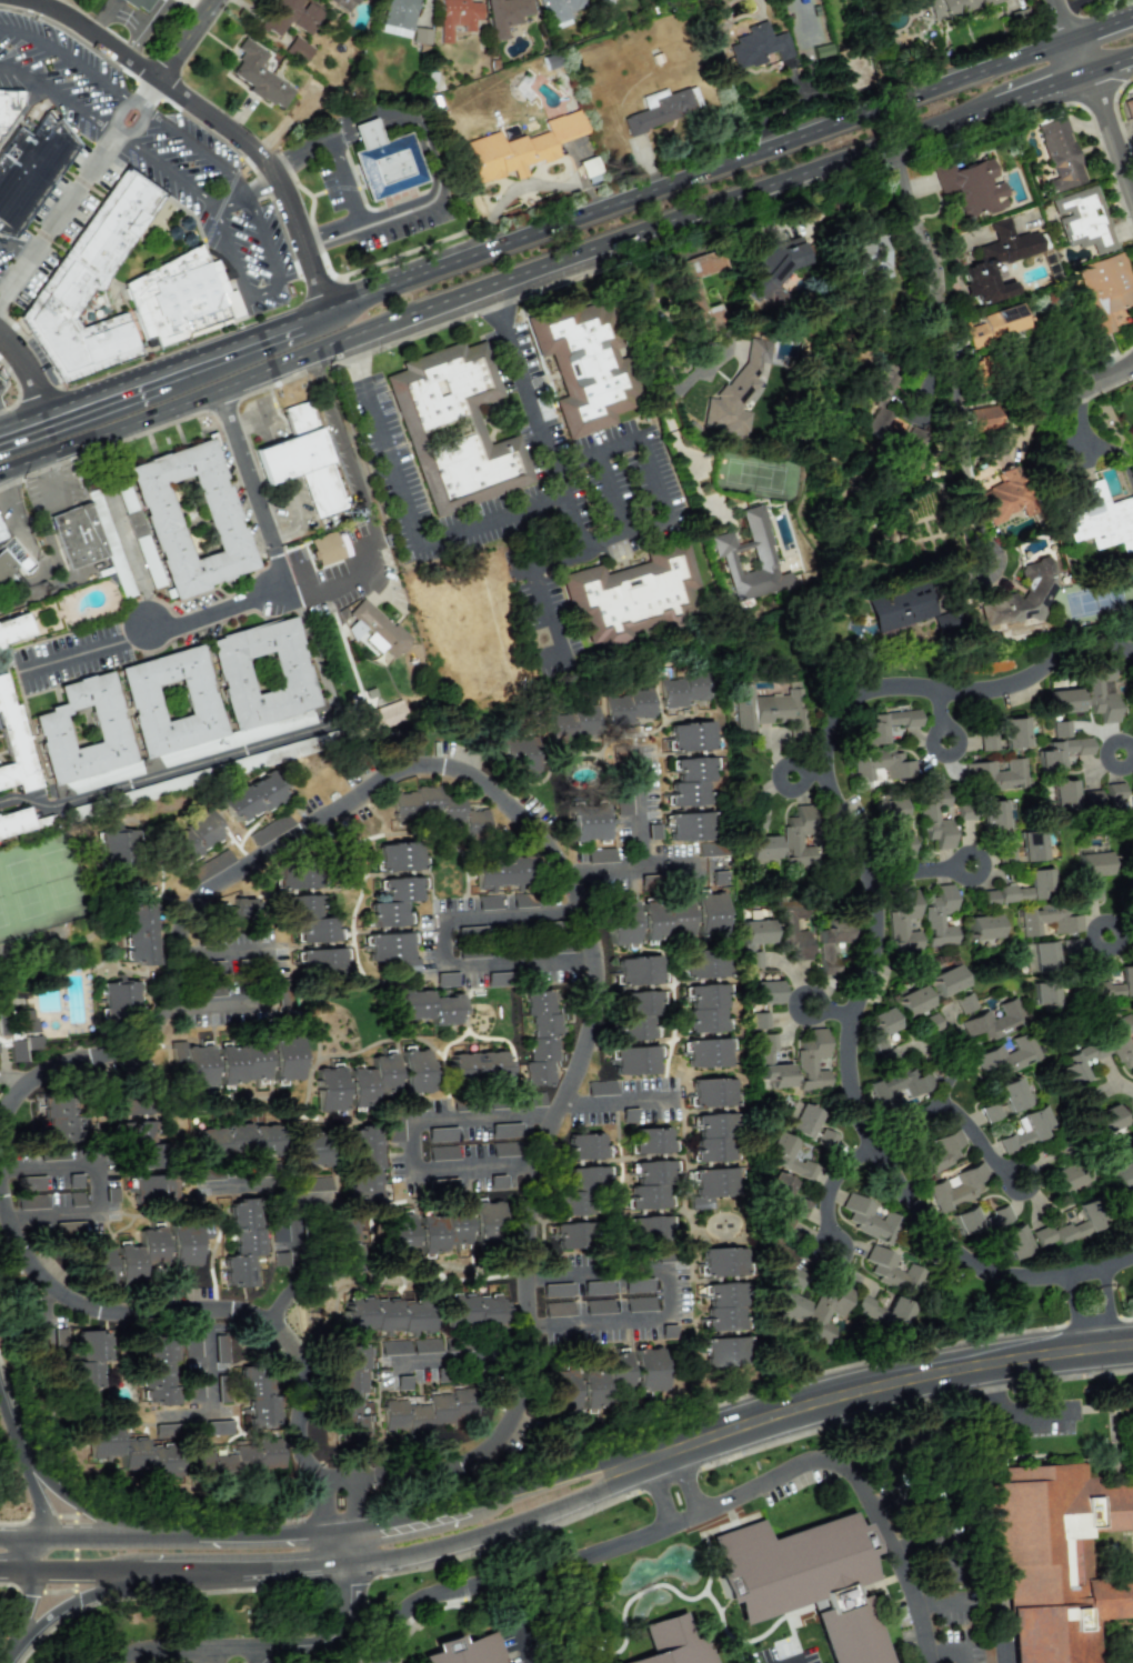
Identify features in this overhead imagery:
road: (117, 2)
building: (601, 2)
building: (342, 3)
building: (140, 4)
building: (952, 7)
road: (77, 8)
building: (559, 11)
road: (153, 12)
building: (505, 14)
building: (289, 16)
building: (398, 16)
building: (457, 17)
road: (1063, 19)
road: (87, 22)
road: (1104, 28)
road: (182, 36)
building: (421, 36)
road: (137, 38)
road: (1059, 42)
building: (758, 46)
building: (298, 49)
road: (1083, 52)
road: (62, 59)
road: (1112, 59)
road: (143, 62)
building: (259, 76)
road: (1042, 82)
road: (147, 88)
road: (52, 92)
building: (311, 93)
road: (130, 99)
building: (9, 104)
road: (975, 106)
building: (662, 108)
building: (1129, 108)
road: (146, 109)
road: (108, 129)
road: (1110, 136)
road: (121, 139)
road: (423, 147)
building: (520, 148)
road: (200, 151)
building: (1060, 154)
building: (388, 166)
building: (29, 167)
road: (273, 167)
road: (1127, 176)
road: (342, 179)
road: (671, 180)
building: (972, 187)
road: (243, 191)
road: (68, 200)
road: (207, 206)
building: (1084, 220)
road: (261, 233)
road: (11, 242)
road: (28, 248)
building: (871, 257)
road: (925, 258)
building: (996, 261)
building: (775, 271)
road: (6, 279)
building: (91, 283)
road: (475, 284)
building: (1104, 289)
building: (698, 290)
road: (267, 292)
building: (179, 297)
building: (993, 325)
road: (227, 347)
road: (651, 363)
road: (34, 364)
building: (583, 365)
road: (1085, 378)
building: (882, 384)
road: (17, 387)
building: (736, 393)
road: (76, 405)
road: (533, 414)
building: (983, 418)
building: (876, 422)
building: (454, 424)
road: (2, 428)
building: (912, 443)
road: (342, 444)
road: (106, 447)
road: (619, 447)
building: (301, 460)
road: (655, 479)
road: (967, 481)
road: (610, 494)
building: (1005, 495)
road: (40, 512)
road: (12, 515)
road: (404, 517)
building: (190, 518)
building: (1101, 518)
building: (0, 534)
building: (77, 535)
road: (10, 539)
road: (359, 541)
road: (604, 541)
building: (324, 549)
road: (131, 555)
road: (279, 558)
building: (750, 558)
building: (148, 559)
building: (11, 560)
road: (351, 562)
road: (377, 570)
road: (302, 583)
road: (52, 585)
road: (332, 588)
building: (632, 595)
building: (1022, 595)
building: (899, 607)
road: (548, 613)
building: (375, 629)
building: (13, 630)
road: (137, 632)
road: (72, 655)
building: (262, 672)
building: (683, 689)
building: (1100, 691)
building: (172, 700)
building: (1063, 700)
building: (630, 705)
building: (769, 709)
building: (389, 713)
building: (575, 723)
building: (885, 724)
building: (1060, 729)
building: (83, 730)
building: (1014, 732)
building: (691, 737)
building: (986, 741)
building: (14, 747)
road: (1106, 751)
building: (1060, 752)
building: (522, 754)
building: (882, 764)
road: (157, 773)
building: (996, 775)
building: (690, 781)
building: (1063, 794)
building: (252, 798)
building: (1091, 799)
building: (623, 803)
building: (1119, 808)
building: (438, 809)
building: (891, 809)
building: (993, 814)
building: (934, 818)
building: (13, 821)
building: (589, 821)
building: (688, 825)
building: (270, 830)
building: (799, 836)
building: (191, 838)
building: (899, 844)
building: (1032, 845)
building: (116, 848)
building: (762, 848)
road: (643, 849)
building: (712, 849)
building: (400, 855)
building: (600, 855)
building: (217, 862)
road: (676, 864)
building: (1092, 864)
building: (502, 871)
road: (918, 871)
building: (297, 874)
building: (720, 878)
building: (646, 882)
building: (1030, 888)
building: (1089, 892)
building: (987, 898)
building: (522, 900)
building: (393, 901)
building: (489, 902)
building: (233, 911)
building: (709, 914)
building: (940, 916)
building: (310, 918)
building: (664, 920)
building: (1049, 920)
building: (902, 921)
building: (621, 922)
building: (984, 926)
building: (794, 929)
road: (874, 929)
road: (1126, 930)
building: (140, 932)
building: (754, 940)
road: (442, 942)
road: (1113, 943)
building: (830, 944)
building: (392, 950)
building: (1041, 956)
building: (321, 960)
building: (704, 963)
building: (638, 970)
building: (445, 979)
building: (498, 979)
building: (946, 980)
road: (271, 986)
building: (1114, 986)
building: (763, 992)
building: (283, 993)
building: (1045, 993)
building: (119, 1000)
building: (912, 1001)
building: (965, 1002)
building: (429, 1006)
building: (705, 1008)
road: (830, 1010)
building: (634, 1014)
building: (759, 1020)
building: (994, 1021)
building: (930, 1023)
building: (17, 1031)
building: (880, 1035)
building: (542, 1036)
building: (1120, 1040)
building: (706, 1052)
building: (103, 1054)
building: (1005, 1056)
building: (285, 1058)
building: (634, 1060)
building: (812, 1061)
building: (1079, 1061)
building: (192, 1063)
building: (241, 1063)
building: (478, 1064)
building: (772, 1064)
building: (414, 1071)
building: (370, 1081)
building: (909, 1081)
building: (600, 1088)
building: (328, 1089)
building: (712, 1092)
building: (1085, 1099)
building: (1004, 1100)
building: (129, 1104)
road: (445, 1110)
road: (953, 1112)
road: (558, 1114)
building: (63, 1119)
building: (801, 1120)
building: (1104, 1120)
building: (394, 1128)
building: (1025, 1129)
building: (503, 1130)
building: (439, 1134)
building: (714, 1136)
building: (651, 1140)
building: (239, 1141)
building: (140, 1143)
building: (584, 1145)
building: (503, 1149)
building: (309, 1151)
building: (441, 1152)
building: (938, 1154)
building: (789, 1156)
building: (364, 1163)
building: (209, 1173)
building: (1123, 1174)
building: (1067, 1175)
road: (97, 1181)
building: (495, 1182)
road: (293, 1183)
building: (650, 1185)
building: (712, 1185)
building: (957, 1185)
building: (152, 1188)
building: (581, 1189)
building: (778, 1189)
road: (829, 1189)
building: (315, 1191)
building: (800, 1208)
building: (1000, 1214)
building: (869, 1219)
building: (485, 1221)
building: (966, 1221)
building: (1079, 1223)
building: (649, 1228)
building: (440, 1230)
building: (279, 1231)
building: (398, 1232)
building: (572, 1234)
building: (1042, 1235)
building: (1014, 1241)
building: (186, 1242)
building: (242, 1242)
building: (349, 1243)
building: (775, 1244)
building: (139, 1255)
building: (281, 1259)
building: (722, 1261)
building: (98, 1263)
building: (892, 1271)
road: (1089, 1278)
building: (795, 1279)
building: (638, 1285)
building: (598, 1288)
building: (557, 1290)
road: (670, 1291)
road: (282, 1300)
building: (639, 1304)
building: (788, 1305)
building: (599, 1306)
building: (723, 1306)
building: (558, 1309)
building: (825, 1309)
building: (471, 1310)
building: (883, 1311)
building: (387, 1314)
road: (1094, 1316)
road: (40, 1323)
building: (191, 1343)
building: (425, 1345)
building: (394, 1348)
building: (221, 1349)
building: (724, 1351)
road: (463, 1359)
building: (88, 1369)
building: (648, 1369)
building: (158, 1371)
building: (602, 1379)
building: (403, 1382)
building: (194, 1384)
road: (208, 1387)
road: (10, 1391)
building: (351, 1391)
building: (560, 1393)
building: (258, 1396)
building: (432, 1410)
road: (1011, 1412)
building: (219, 1427)
road: (720, 1434)
building: (133, 1452)
road: (24, 1455)
building: (241, 1459)
road: (673, 1487)
road: (84, 1505)
road: (703, 1512)
road: (344, 1513)
road: (157, 1534)
building: (1060, 1556)
road: (157, 1560)
building: (803, 1581)
road: (104, 1590)
road: (33, 1596)
road: (936, 1603)
road: (332, 1639)
building: (673, 1643)
building: (465, 1650)
road: (951, 1650)
road: (158, 1652)
building: (1132, 1659)
road: (789, 1660)
road: (798, 1660)

